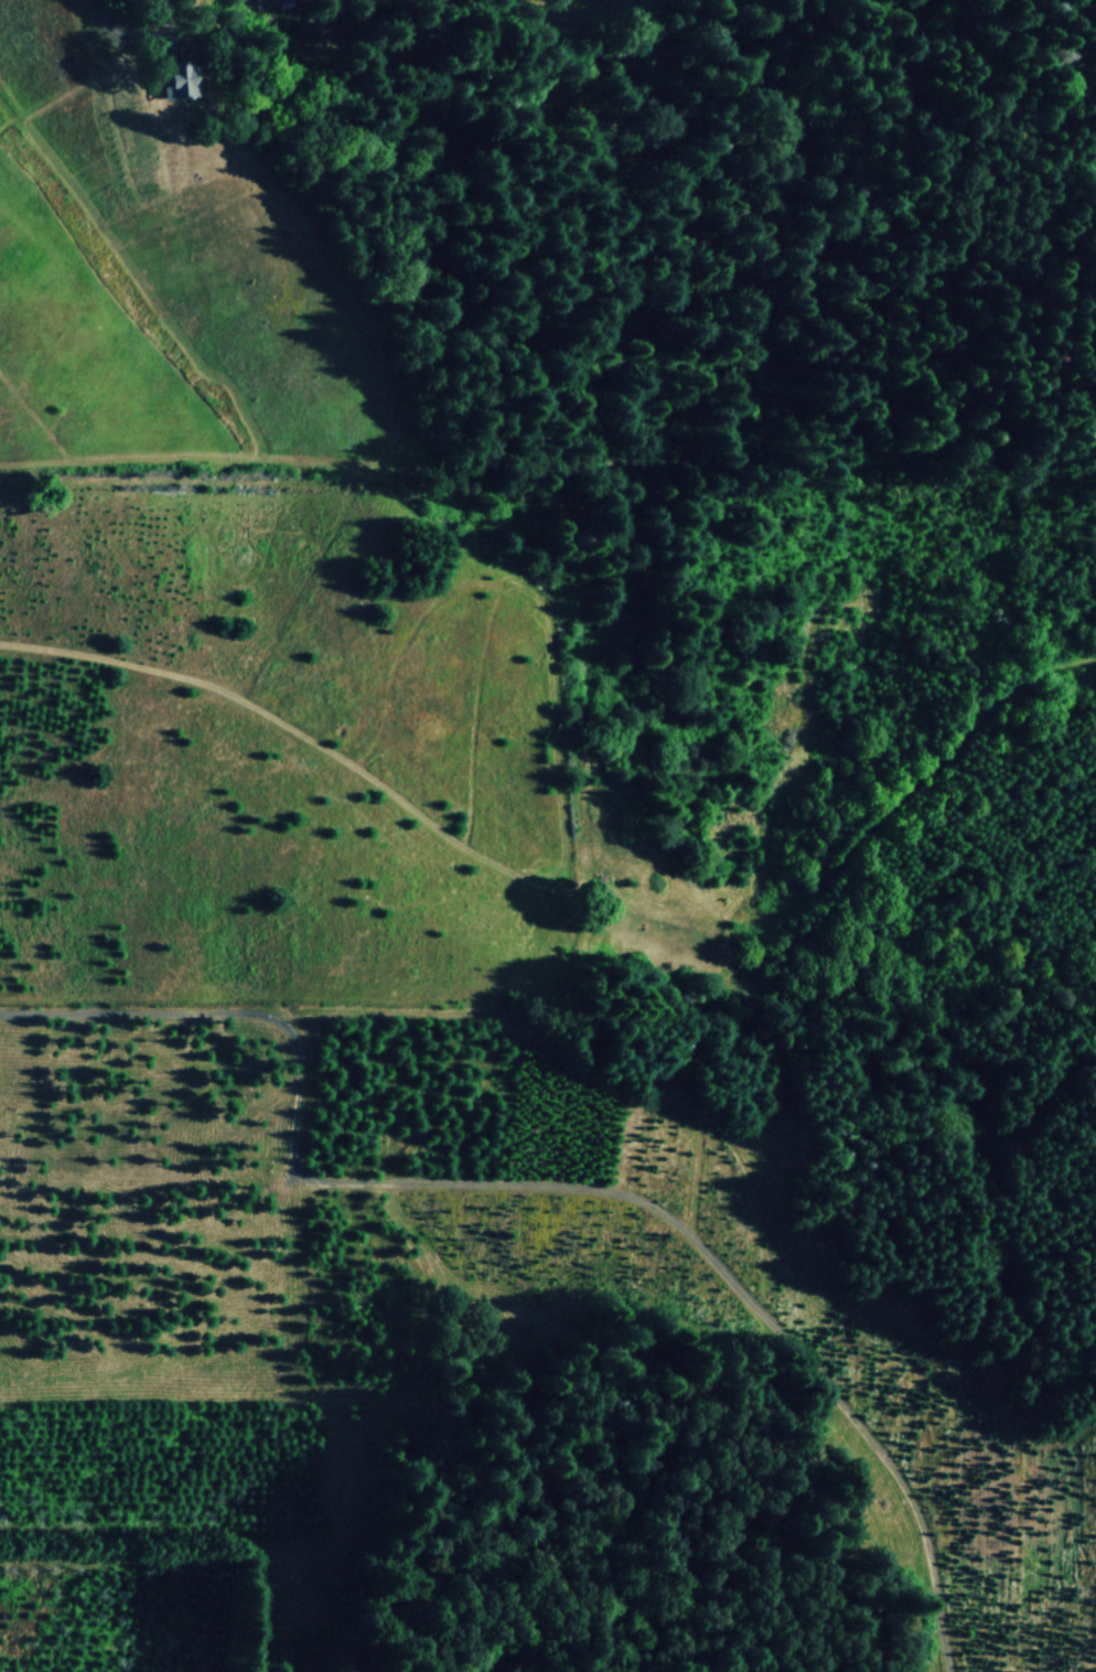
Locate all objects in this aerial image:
building: (264, 2)
road: (125, 31)
building: (175, 77)
crop: (219, 593)
road: (540, 1185)

